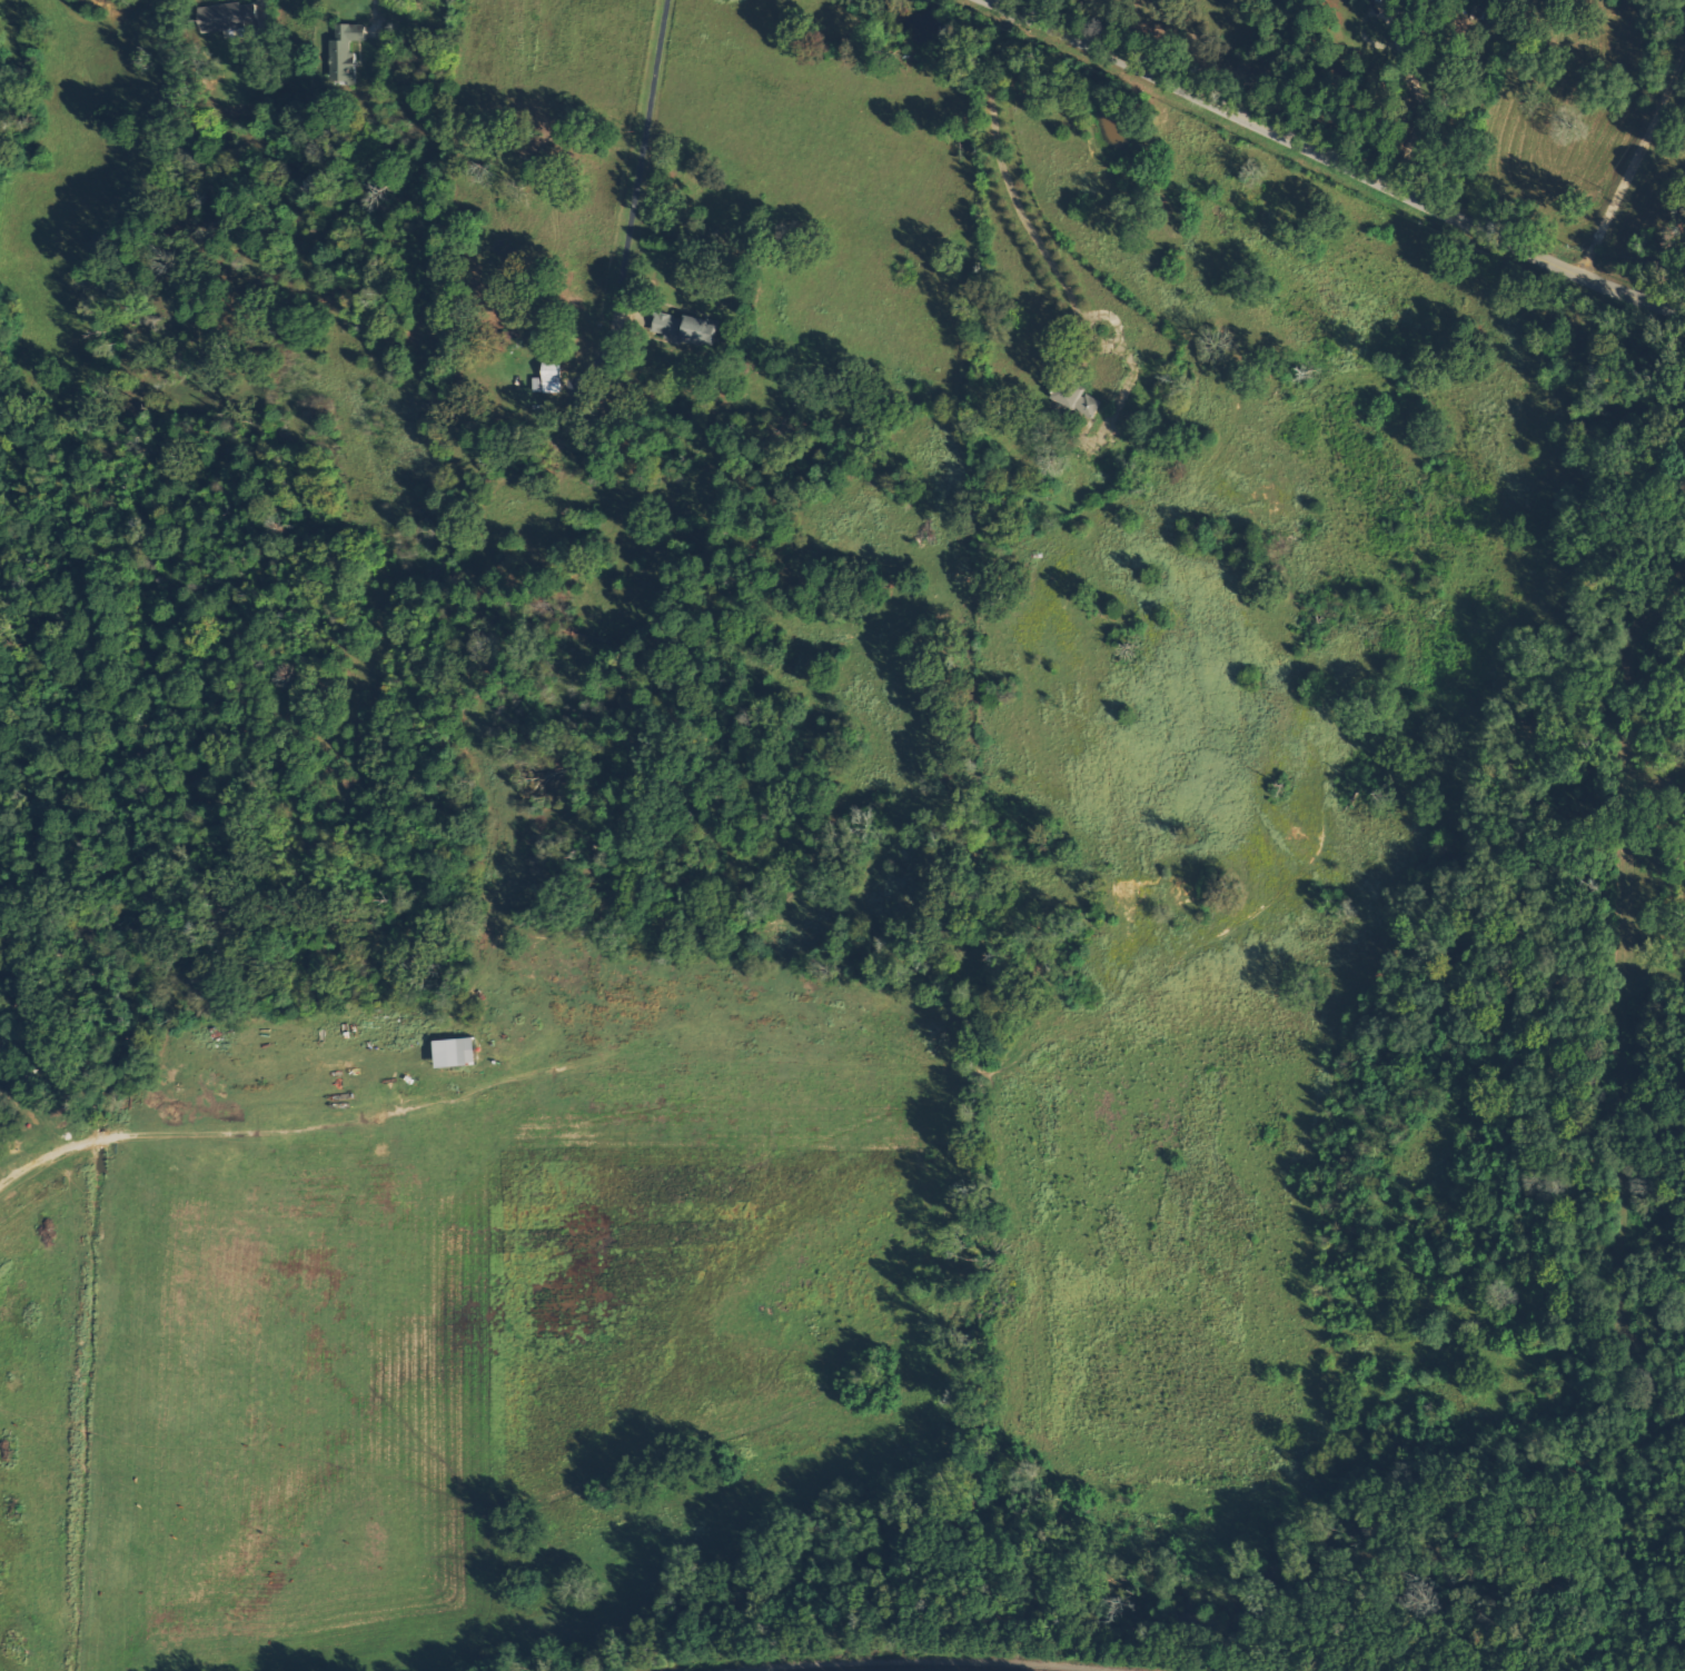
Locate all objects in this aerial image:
building: (231, 18)
building: (346, 49)
road: (1331, 161)
building: (687, 328)
building: (552, 379)
building: (1080, 400)
building: (459, 1052)
railway: (925, 1668)

